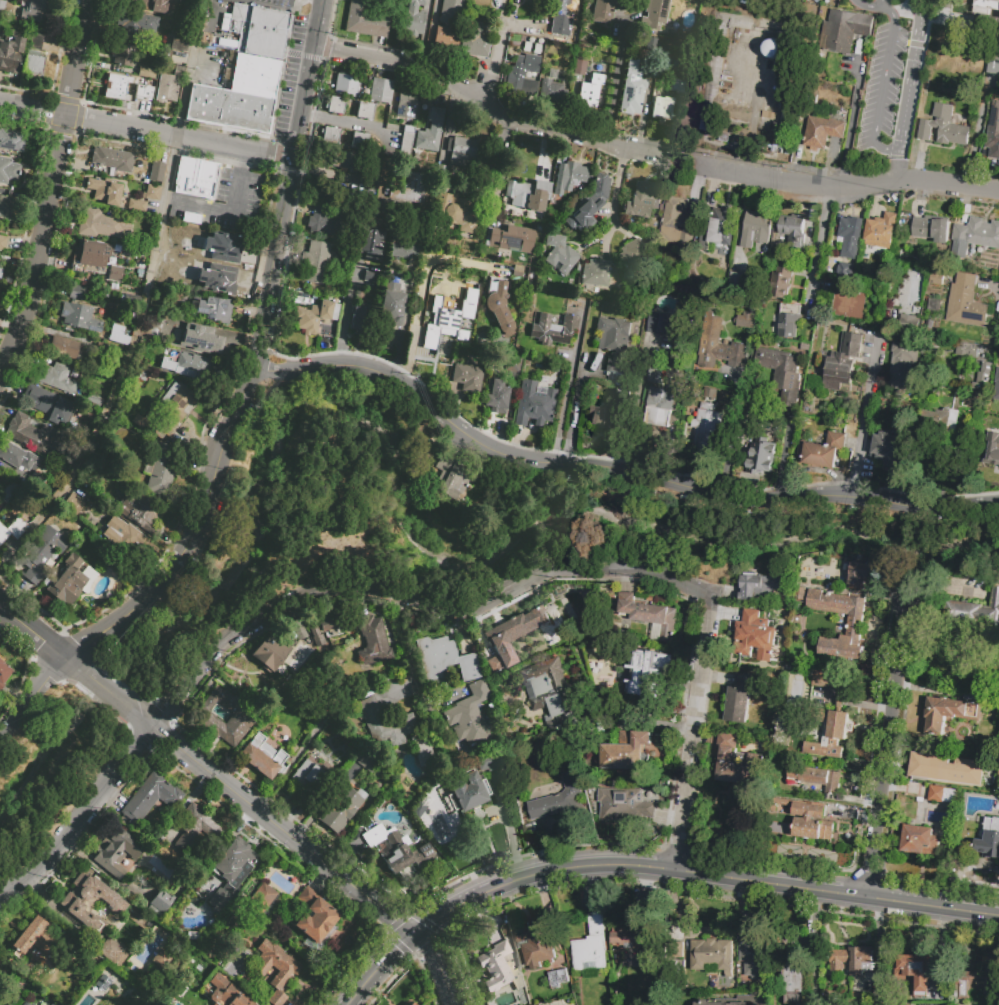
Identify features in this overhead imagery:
building: (997, 0)
building: (535, 1)
building: (146, 4)
road: (917, 4)
building: (414, 5)
road: (862, 5)
road: (877, 5)
building: (1, 7)
building: (34, 10)
building: (604, 10)
road: (890, 11)
building: (451, 12)
building: (654, 13)
road: (906, 16)
building: (562, 17)
road: (915, 17)
building: (364, 19)
building: (137, 23)
building: (413, 23)
building: (845, 30)
building: (253, 31)
road: (431, 36)
building: (445, 38)
building: (38, 39)
building: (474, 40)
building: (180, 42)
building: (651, 43)
building: (770, 48)
water tower: (772, 51)
building: (10, 54)
building: (122, 55)
building: (169, 56)
building: (637, 59)
building: (994, 60)
road: (493, 61)
building: (28, 62)
building: (527, 63)
building: (38, 64)
building: (579, 65)
building: (177, 72)
building: (552, 72)
building: (255, 75)
parking lot: (290, 77)
building: (118, 80)
road: (617, 83)
building: (345, 84)
building: (519, 85)
building: (678, 85)
building: (590, 89)
building: (141, 90)
building: (380, 91)
building: (552, 91)
building: (115, 93)
building: (630, 93)
building: (166, 94)
parking lot: (891, 94)
building: (406, 104)
building: (335, 105)
building: (662, 107)
building: (229, 108)
road: (487, 108)
building: (364, 110)
road: (853, 116)
road: (346, 122)
building: (943, 126)
building: (708, 127)
building: (430, 130)
road: (146, 131)
building: (822, 132)
building: (993, 132)
building: (329, 136)
road: (980, 138)
building: (11, 140)
building: (359, 141)
building: (406, 142)
road: (887, 147)
building: (465, 154)
building: (113, 158)
building: (345, 160)
road: (680, 160)
road: (244, 162)
road: (908, 166)
road: (893, 167)
building: (9, 169)
building: (156, 171)
road: (503, 173)
building: (574, 173)
building: (346, 175)
building: (195, 177)
road: (288, 184)
road: (847, 185)
building: (412, 188)
building: (105, 190)
road: (52, 192)
building: (151, 192)
building: (528, 193)
road: (615, 193)
building: (556, 195)
building: (643, 199)
parking lot: (228, 203)
building: (137, 204)
building: (588, 204)
building: (6, 207)
building: (456, 211)
road: (226, 213)
building: (192, 218)
building: (324, 219)
building: (99, 224)
building: (679, 225)
building: (722, 227)
building: (792, 228)
building: (754, 229)
building: (930, 229)
building: (881, 231)
building: (978, 232)
building: (512, 238)
building: (848, 240)
building: (2, 242)
building: (370, 243)
building: (402, 246)
road: (821, 246)
building: (213, 249)
building: (316, 250)
building: (88, 252)
building: (560, 252)
building: (632, 253)
building: (0, 263)
building: (0, 270)
building: (313, 270)
building: (843, 270)
building: (595, 272)
building: (115, 273)
parking lot: (199, 273)
building: (370, 276)
building: (936, 276)
road: (191, 277)
building: (779, 283)
building: (444, 284)
road: (422, 287)
road: (259, 290)
building: (77, 292)
building: (850, 297)
building: (125, 298)
building: (965, 302)
road: (147, 304)
building: (391, 304)
building: (497, 305)
building: (933, 305)
building: (210, 308)
building: (848, 310)
building: (312, 316)
building: (79, 317)
road: (348, 317)
building: (364, 319)
building: (745, 320)
building: (789, 321)
building: (907, 323)
building: (662, 324)
building: (439, 327)
building: (553, 329)
building: (202, 337)
building: (118, 338)
building: (614, 342)
building: (718, 346)
building: (63, 347)
building: (971, 353)
building: (841, 362)
building: (512, 363)
building: (193, 366)
building: (902, 367)
building: (142, 374)
building: (654, 374)
building: (780, 375)
building: (57, 377)
building: (468, 377)
building: (982, 377)
building: (620, 380)
road: (569, 387)
building: (995, 387)
building: (709, 393)
building: (623, 394)
building: (979, 395)
building: (496, 396)
building: (96, 399)
building: (176, 400)
building: (47, 403)
building: (533, 403)
building: (658, 407)
building: (603, 416)
road: (866, 416)
building: (934, 420)
building: (156, 424)
road: (575, 424)
building: (704, 429)
building: (992, 430)
building: (33, 435)
building: (888, 447)
building: (991, 450)
building: (818, 451)
building: (762, 454)
building: (18, 456)
road: (782, 465)
building: (161, 467)
road: (612, 471)
building: (452, 478)
building: (9, 493)
building: (73, 503)
building: (138, 509)
building: (13, 529)
building: (123, 535)
building: (41, 552)
road: (183, 554)
building: (859, 575)
building: (67, 580)
building: (761, 586)
road: (413, 600)
building: (977, 605)
building: (650, 617)
building: (325, 624)
building: (855, 624)
building: (297, 629)
road: (35, 631)
building: (758, 631)
building: (511, 635)
road: (401, 642)
building: (375, 643)
building: (270, 655)
building: (444, 658)
building: (4, 672)
building: (647, 675)
building: (823, 686)
building: (547, 687)
building: (739, 699)
building: (952, 710)
road: (19, 713)
building: (327, 713)
building: (470, 715)
building: (241, 716)
building: (829, 718)
road: (635, 720)
building: (384, 723)
building: (552, 723)
road: (693, 736)
building: (421, 748)
road: (886, 750)
building: (625, 751)
building: (263, 756)
building: (367, 761)
building: (493, 761)
building: (737, 762)
building: (946, 768)
building: (817, 777)
building: (310, 778)
building: (468, 793)
building: (942, 795)
road: (242, 797)
building: (152, 799)
building: (558, 800)
building: (623, 805)
building: (341, 808)
road: (81, 818)
building: (807, 819)
building: (197, 830)
road: (508, 832)
building: (989, 839)
building: (919, 841)
building: (397, 848)
building: (116, 851)
building: (234, 862)
road: (959, 872)
road: (700, 876)
building: (219, 900)
building: (263, 900)
building: (89, 901)
building: (159, 902)
building: (313, 916)
building: (627, 932)
traffic signals: (414, 936)
building: (36, 942)
building: (534, 945)
building: (591, 946)
building: (113, 950)
building: (678, 952)
building: (713, 955)
building: (752, 955)
building: (159, 957)
building: (854, 959)
building: (615, 965)
building: (499, 967)
road: (378, 968)
building: (276, 969)
road: (430, 969)
building: (789, 970)
building: (916, 972)
building: (559, 980)
building: (102, 982)
building: (977, 985)
building: (620, 990)
building: (227, 992)
building: (541, 998)
building: (26, 1003)
building: (719, 1003)
building: (54, 1004)
building: (410, 1004)
building: (413, 1004)

